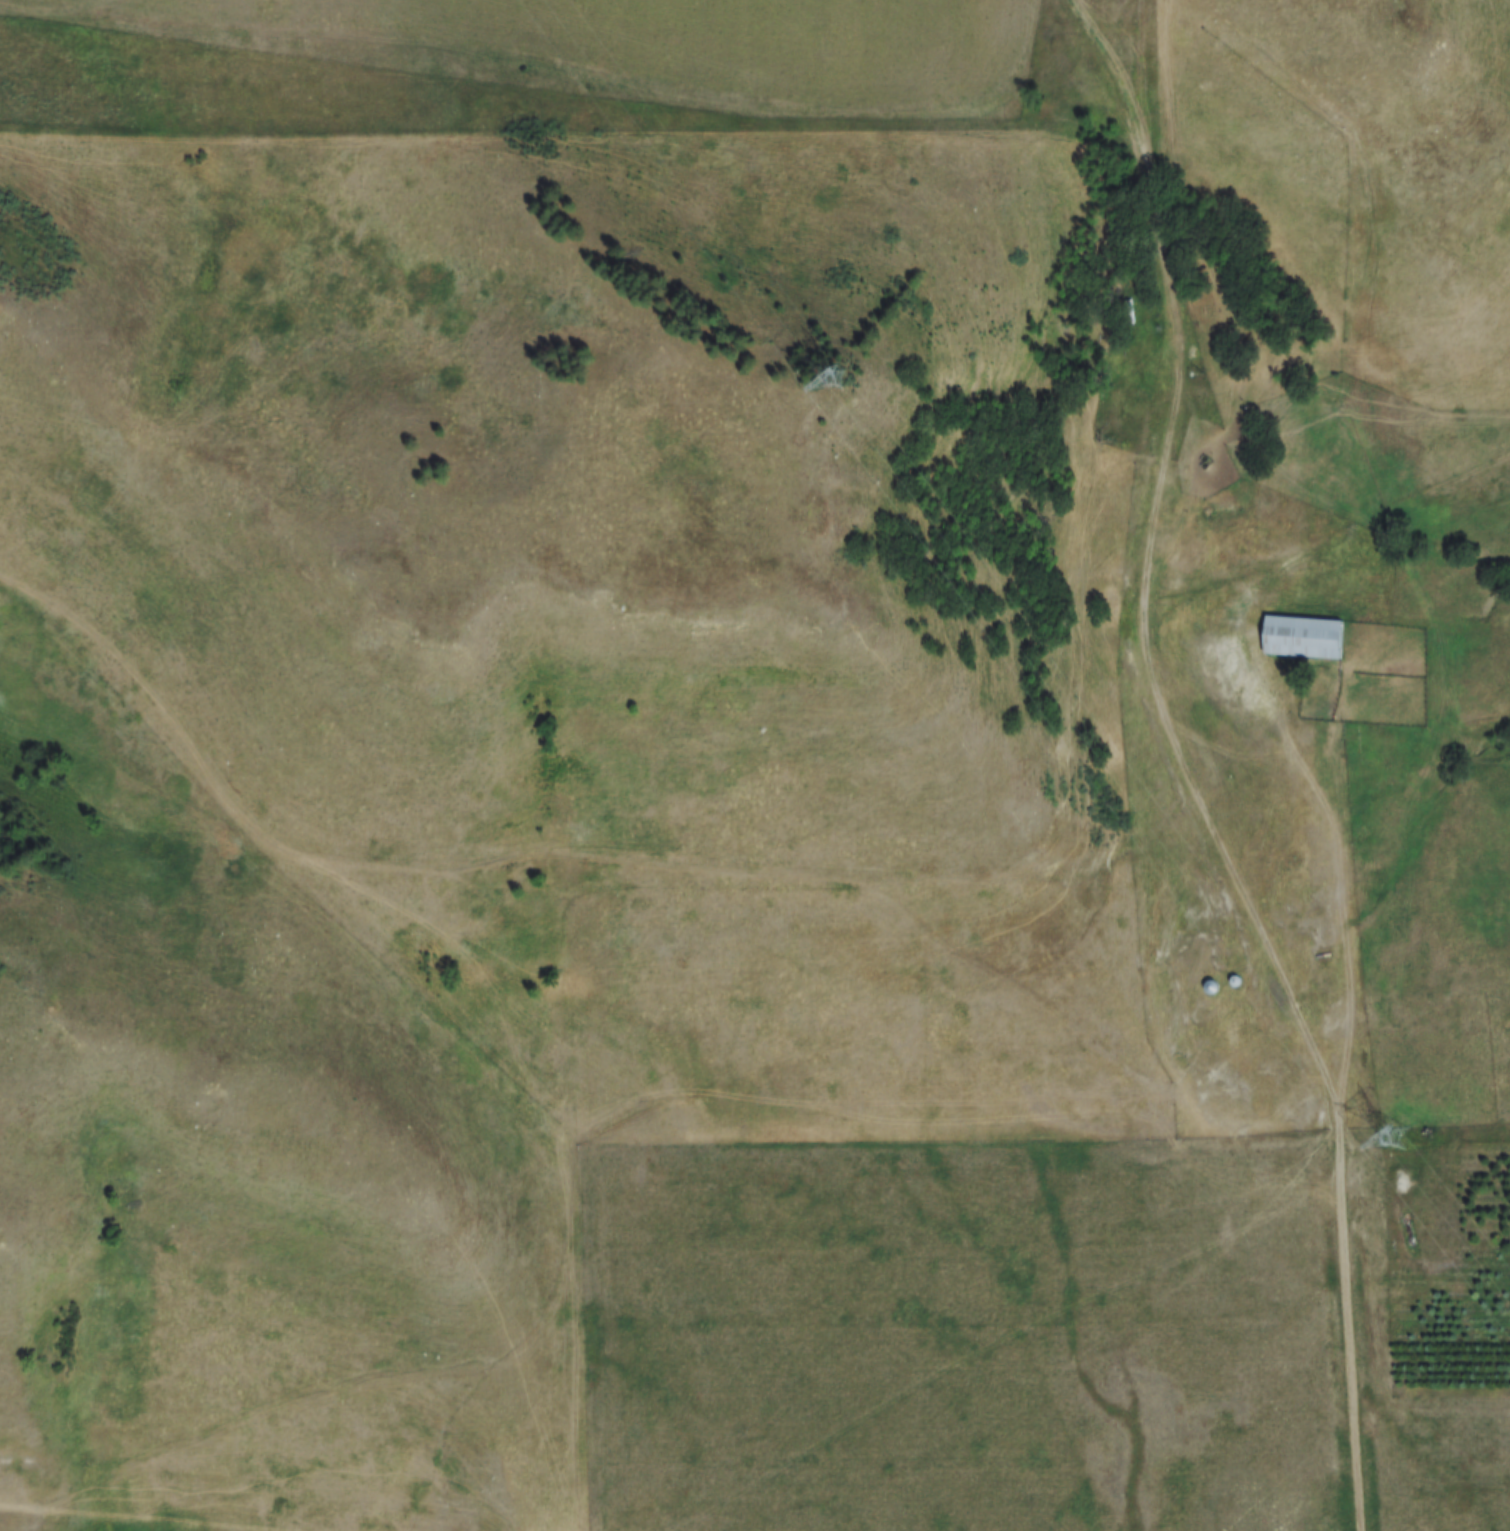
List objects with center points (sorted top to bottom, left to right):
building: (1307, 636)
road: (1184, 773)
building: (1214, 987)
power tower: (1413, 1132)

